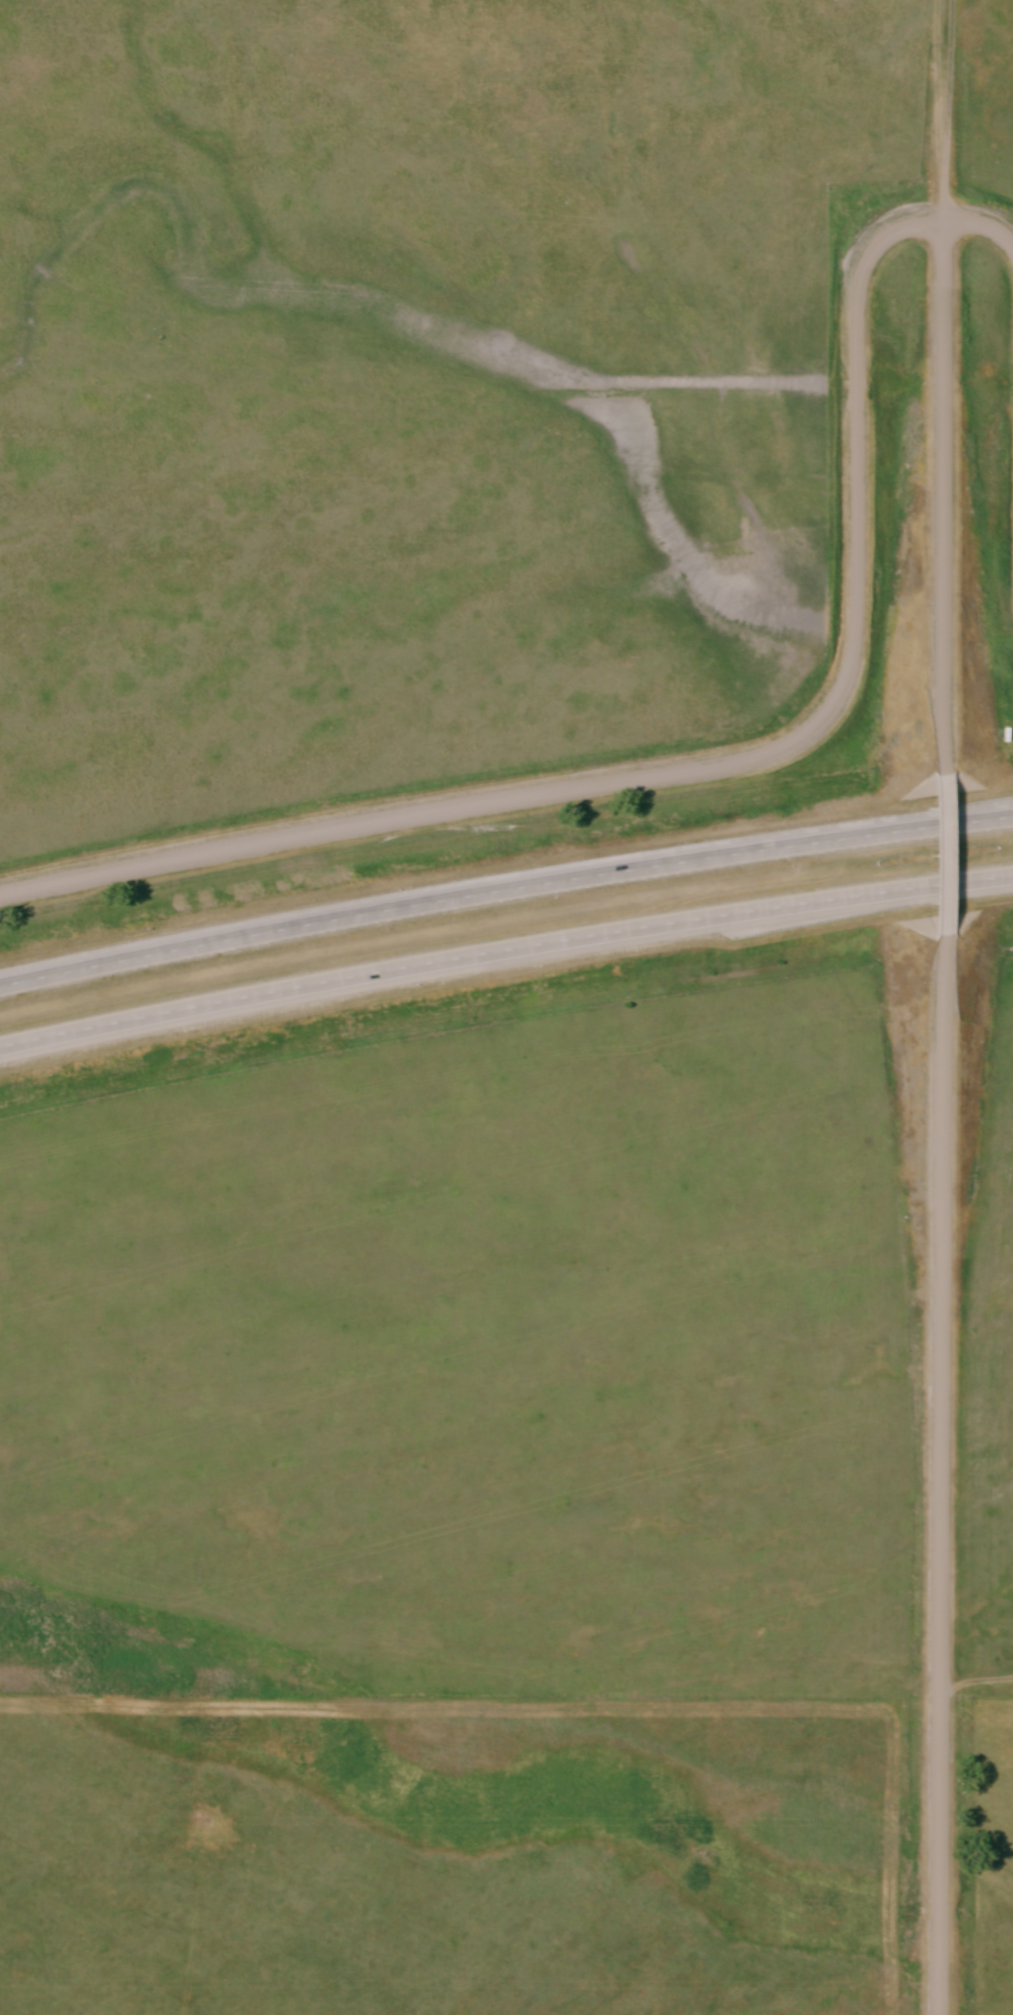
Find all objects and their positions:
road: (941, 494)
road: (734, 770)
road: (941, 852)
road: (504, 887)
road: (504, 949)
road: (939, 1475)

